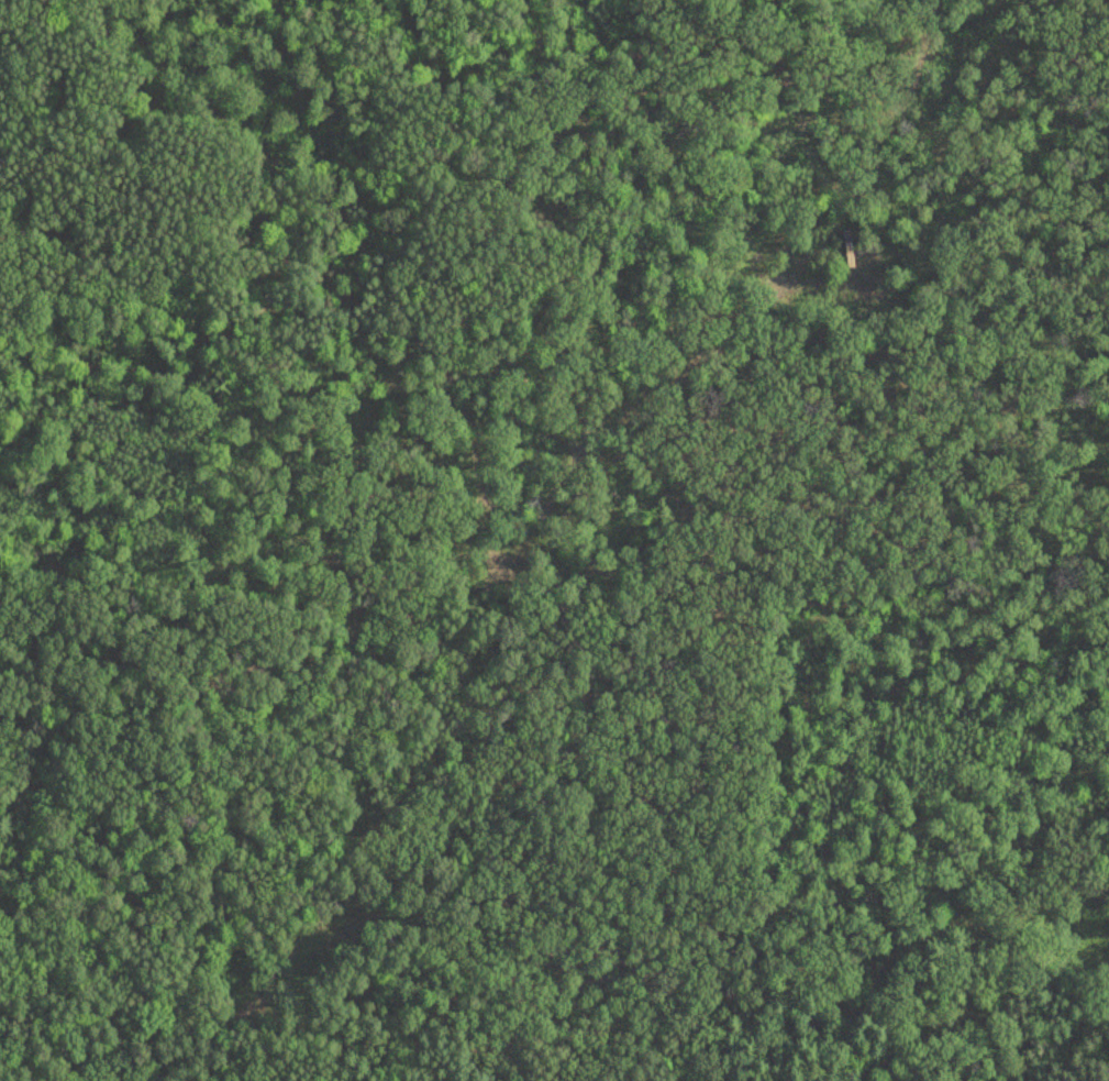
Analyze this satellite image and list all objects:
road: (26, 729)
road: (23, 1040)

